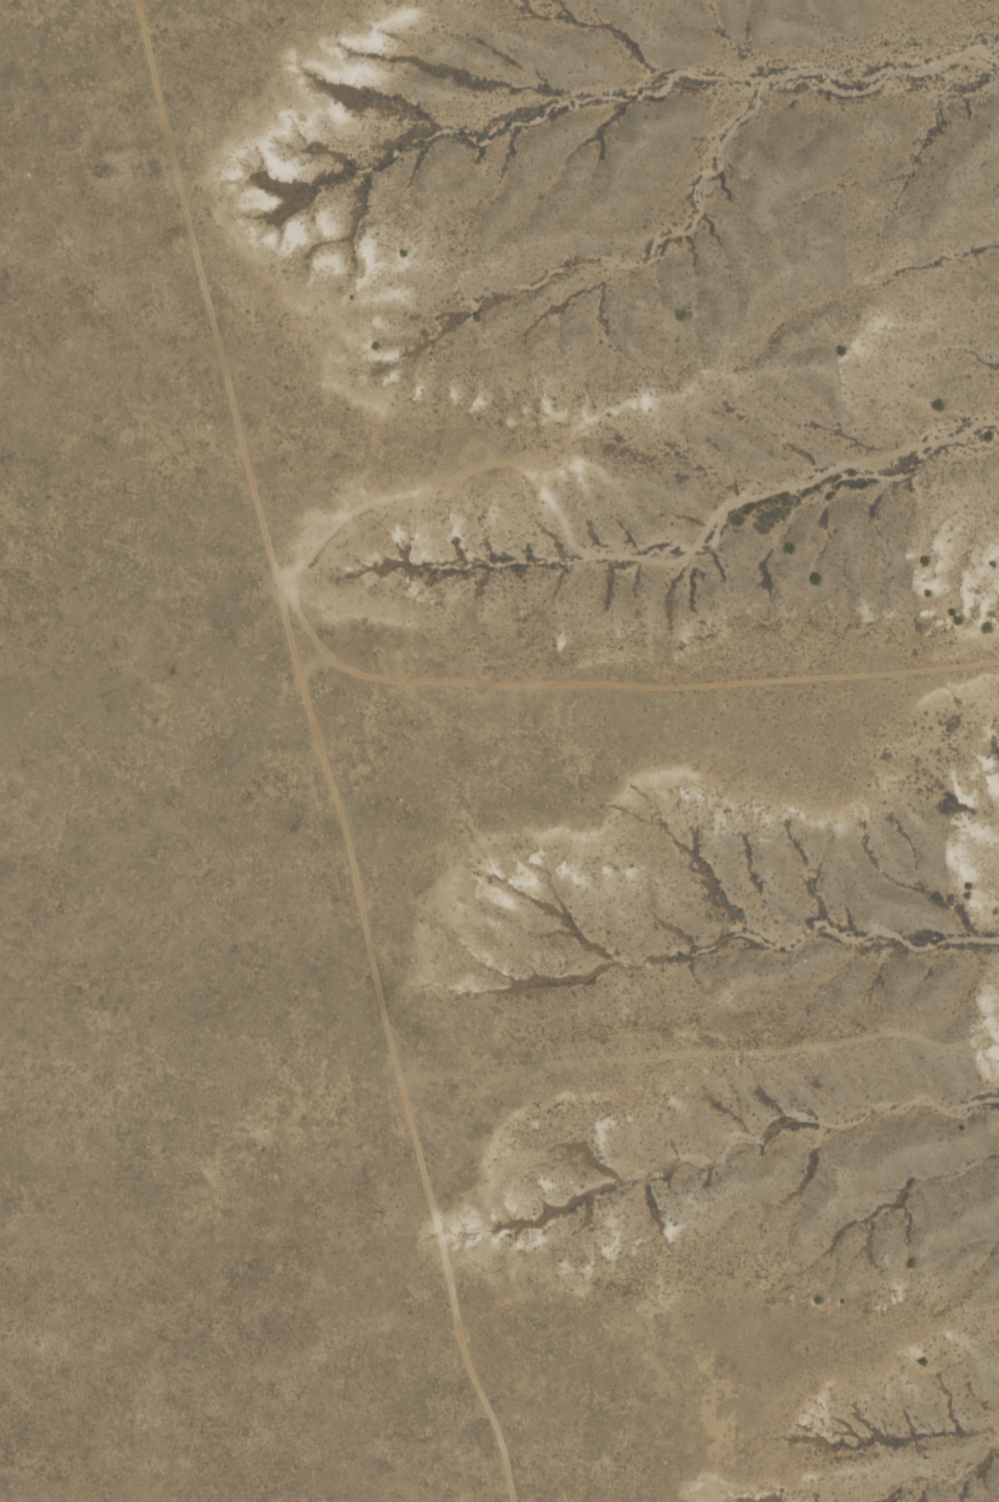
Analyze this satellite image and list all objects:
power tower: (928, 1453)

